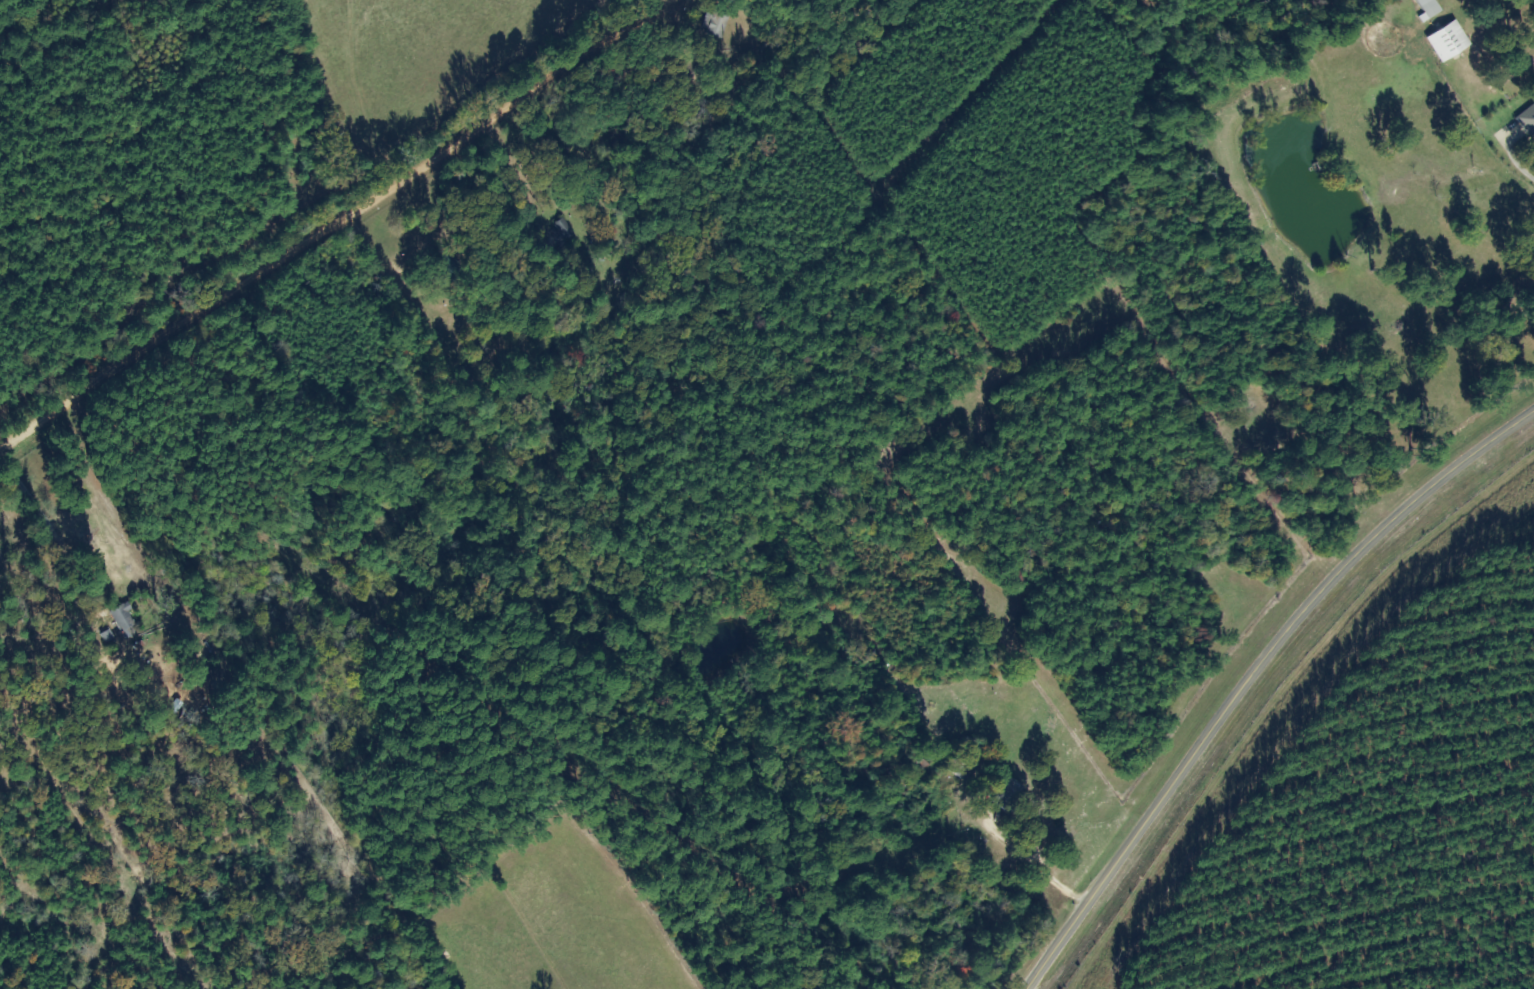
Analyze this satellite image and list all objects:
building: (1428, 9)
building: (1448, 41)
building: (1527, 122)
road: (353, 230)
building: (123, 620)
road: (1254, 676)

